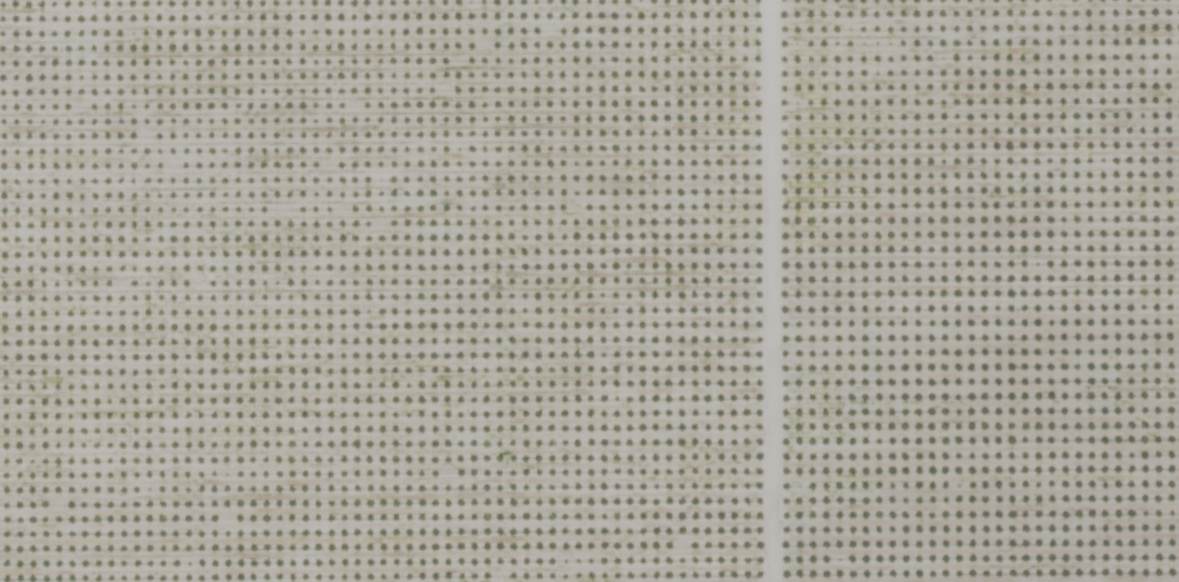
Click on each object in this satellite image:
road: (763, 291)

